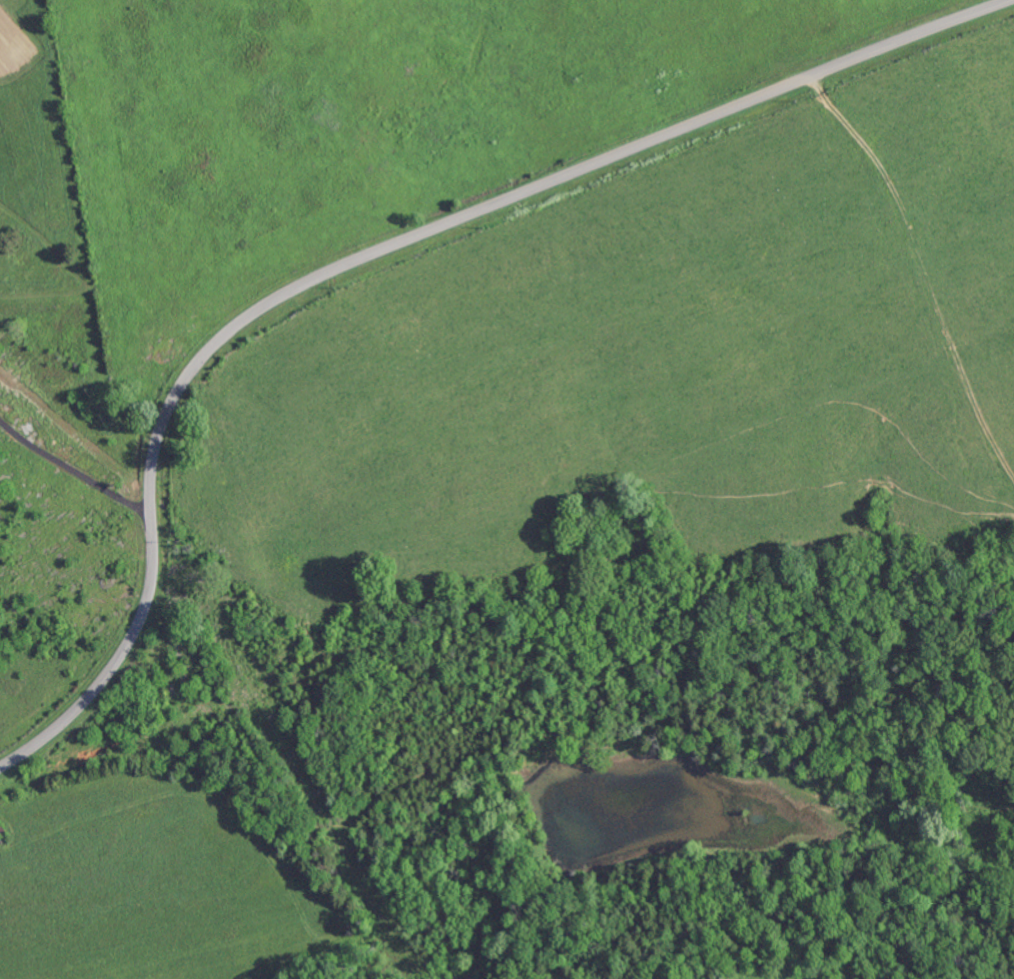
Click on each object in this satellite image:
road: (375, 254)
road: (78, 471)
road: (745, 878)

